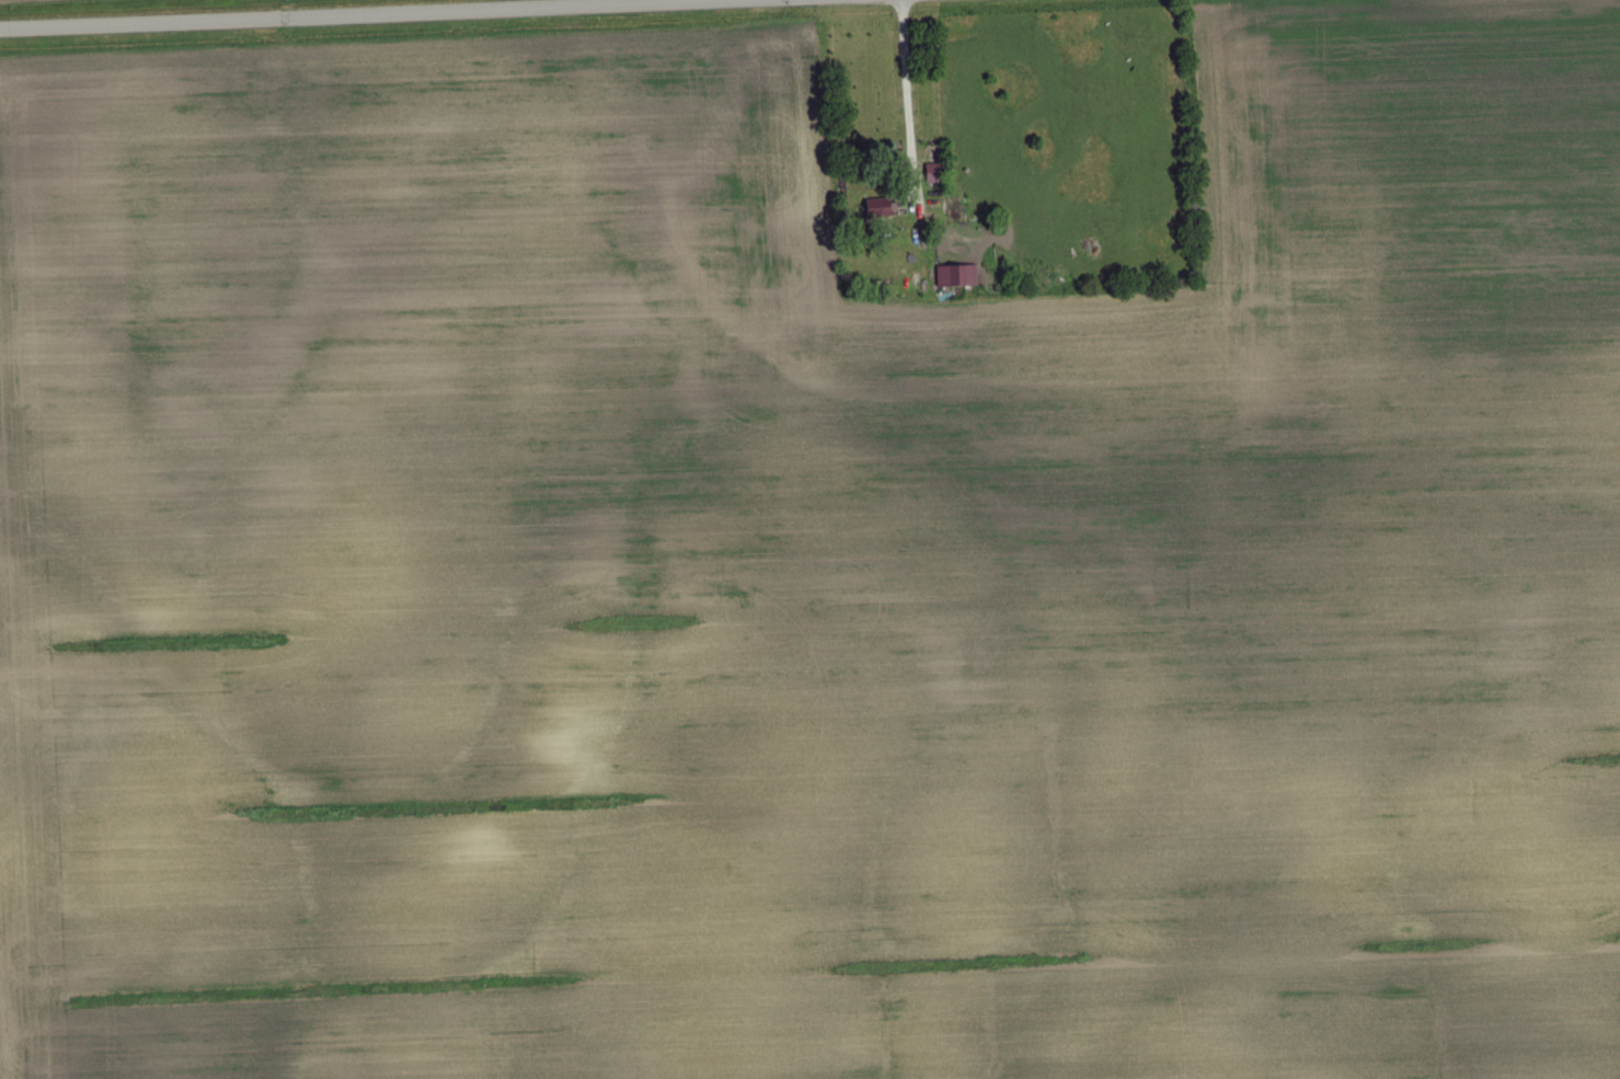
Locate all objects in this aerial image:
road: (352, 14)
building: (882, 210)

